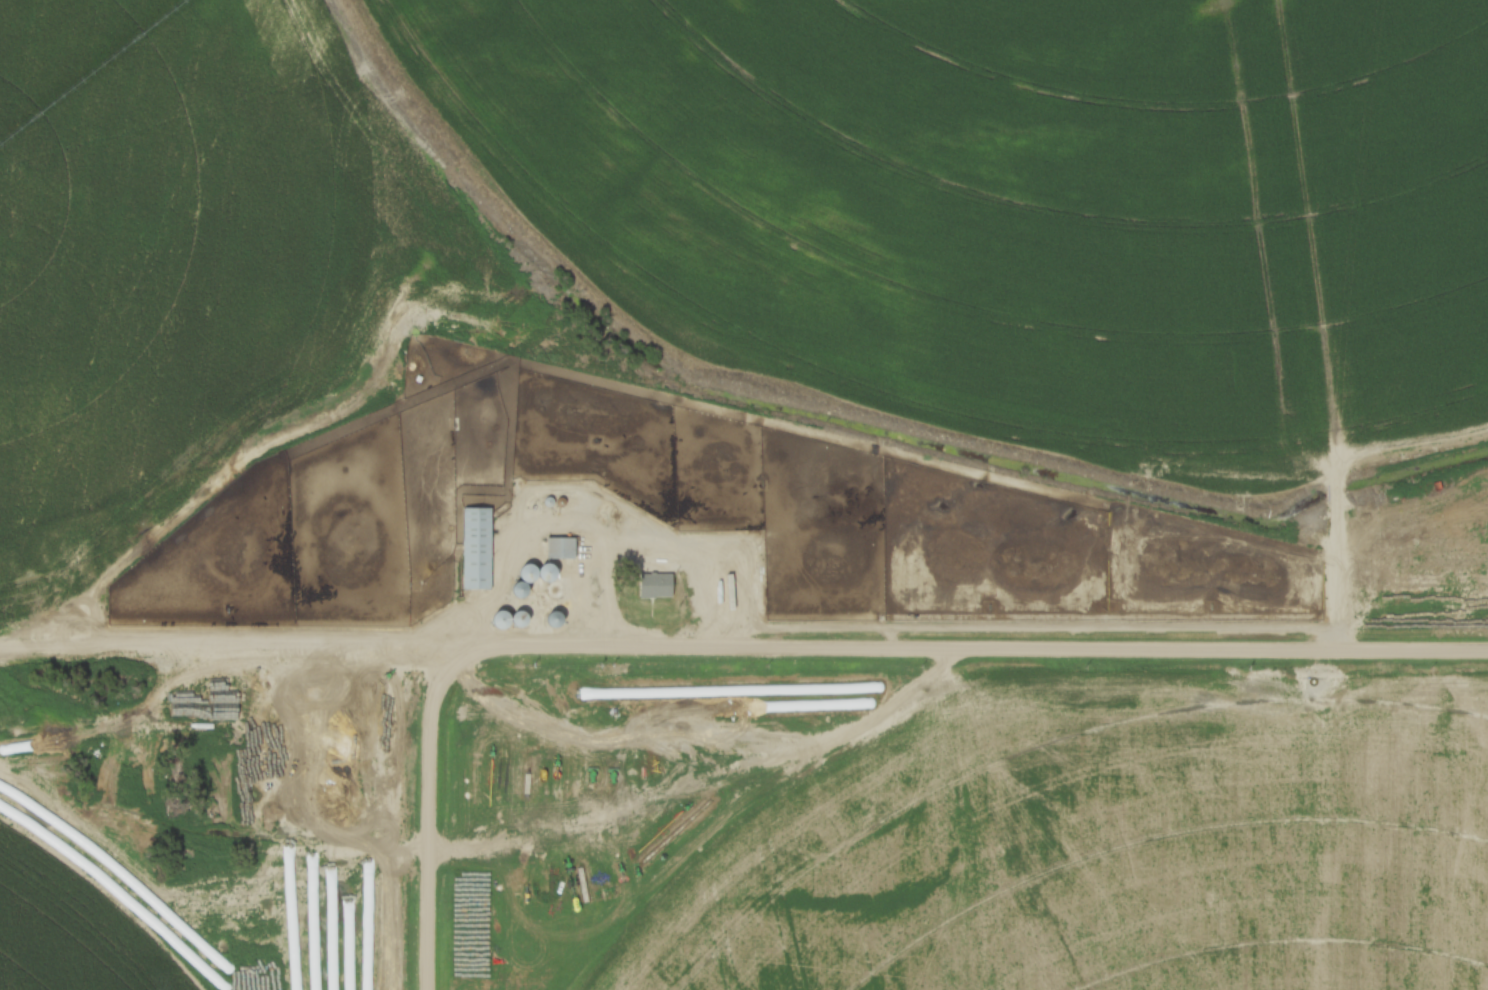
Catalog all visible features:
building: (561, 547)
building: (477, 548)
building: (550, 580)
building: (656, 584)
building: (554, 619)
building: (510, 620)
road: (973, 656)
road: (435, 825)

